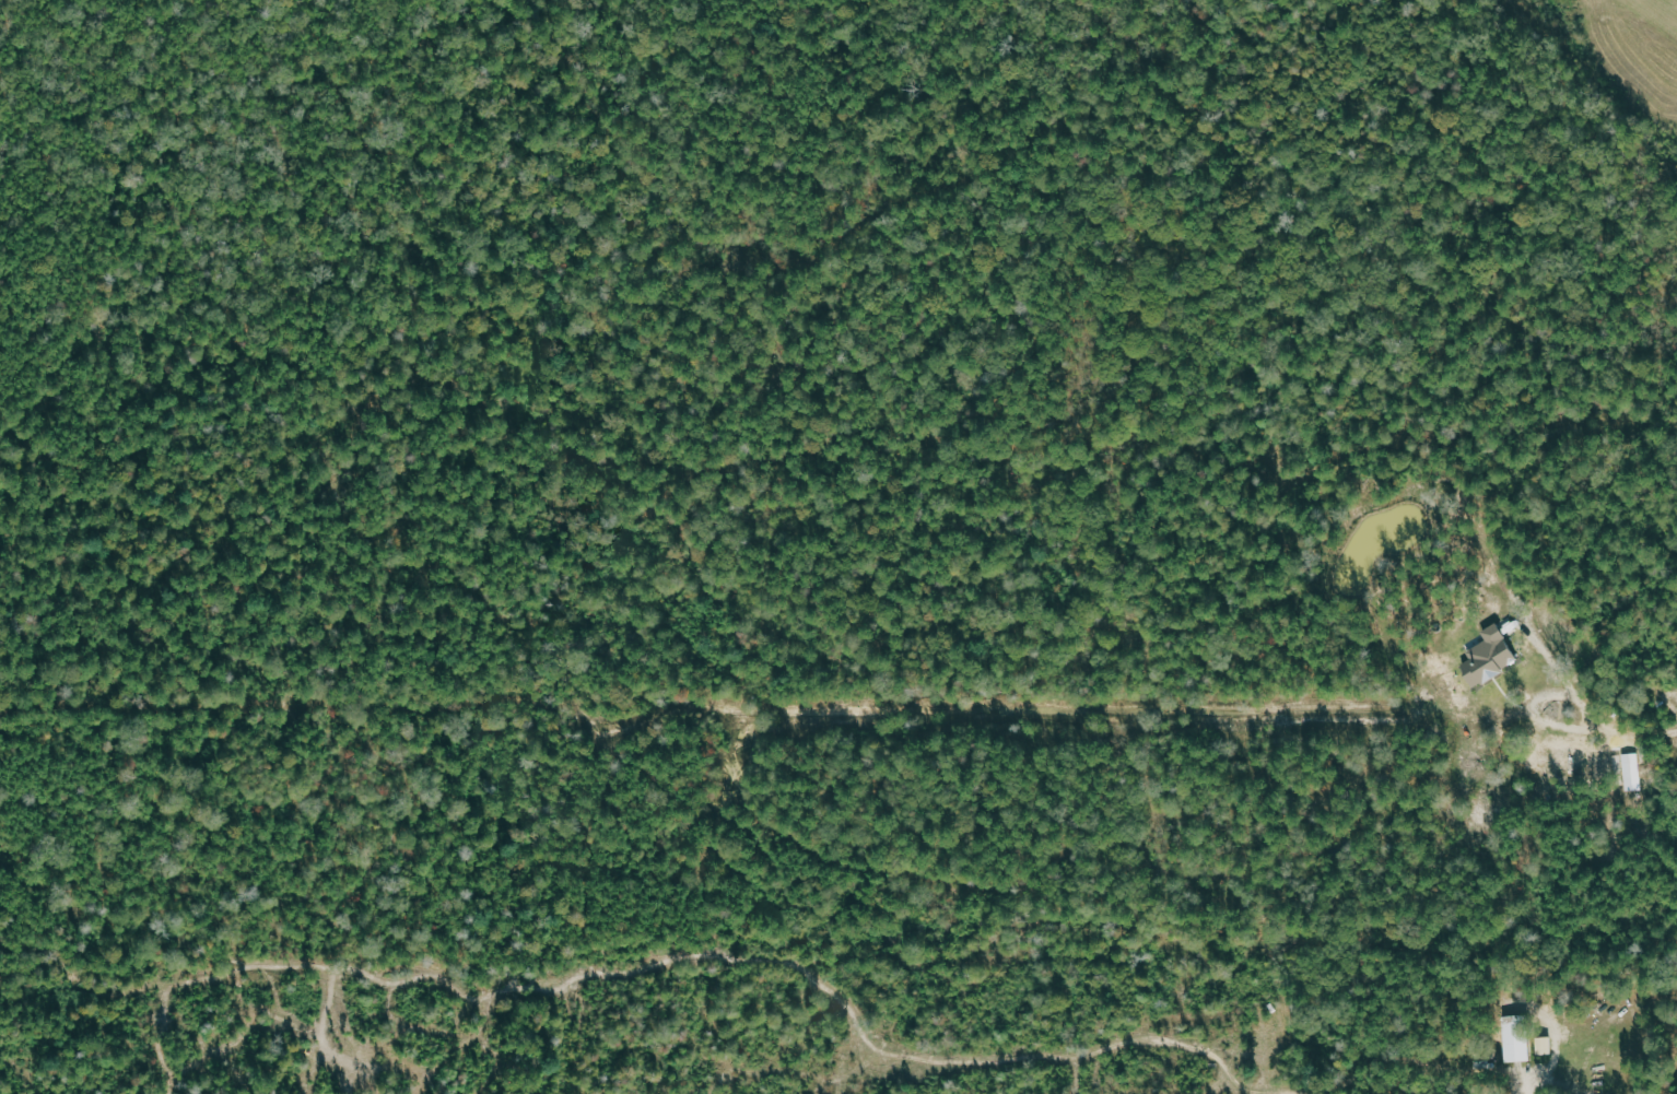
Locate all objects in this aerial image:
building: (1488, 657)
building: (1630, 758)
building: (1545, 1046)
road: (1523, 1089)

